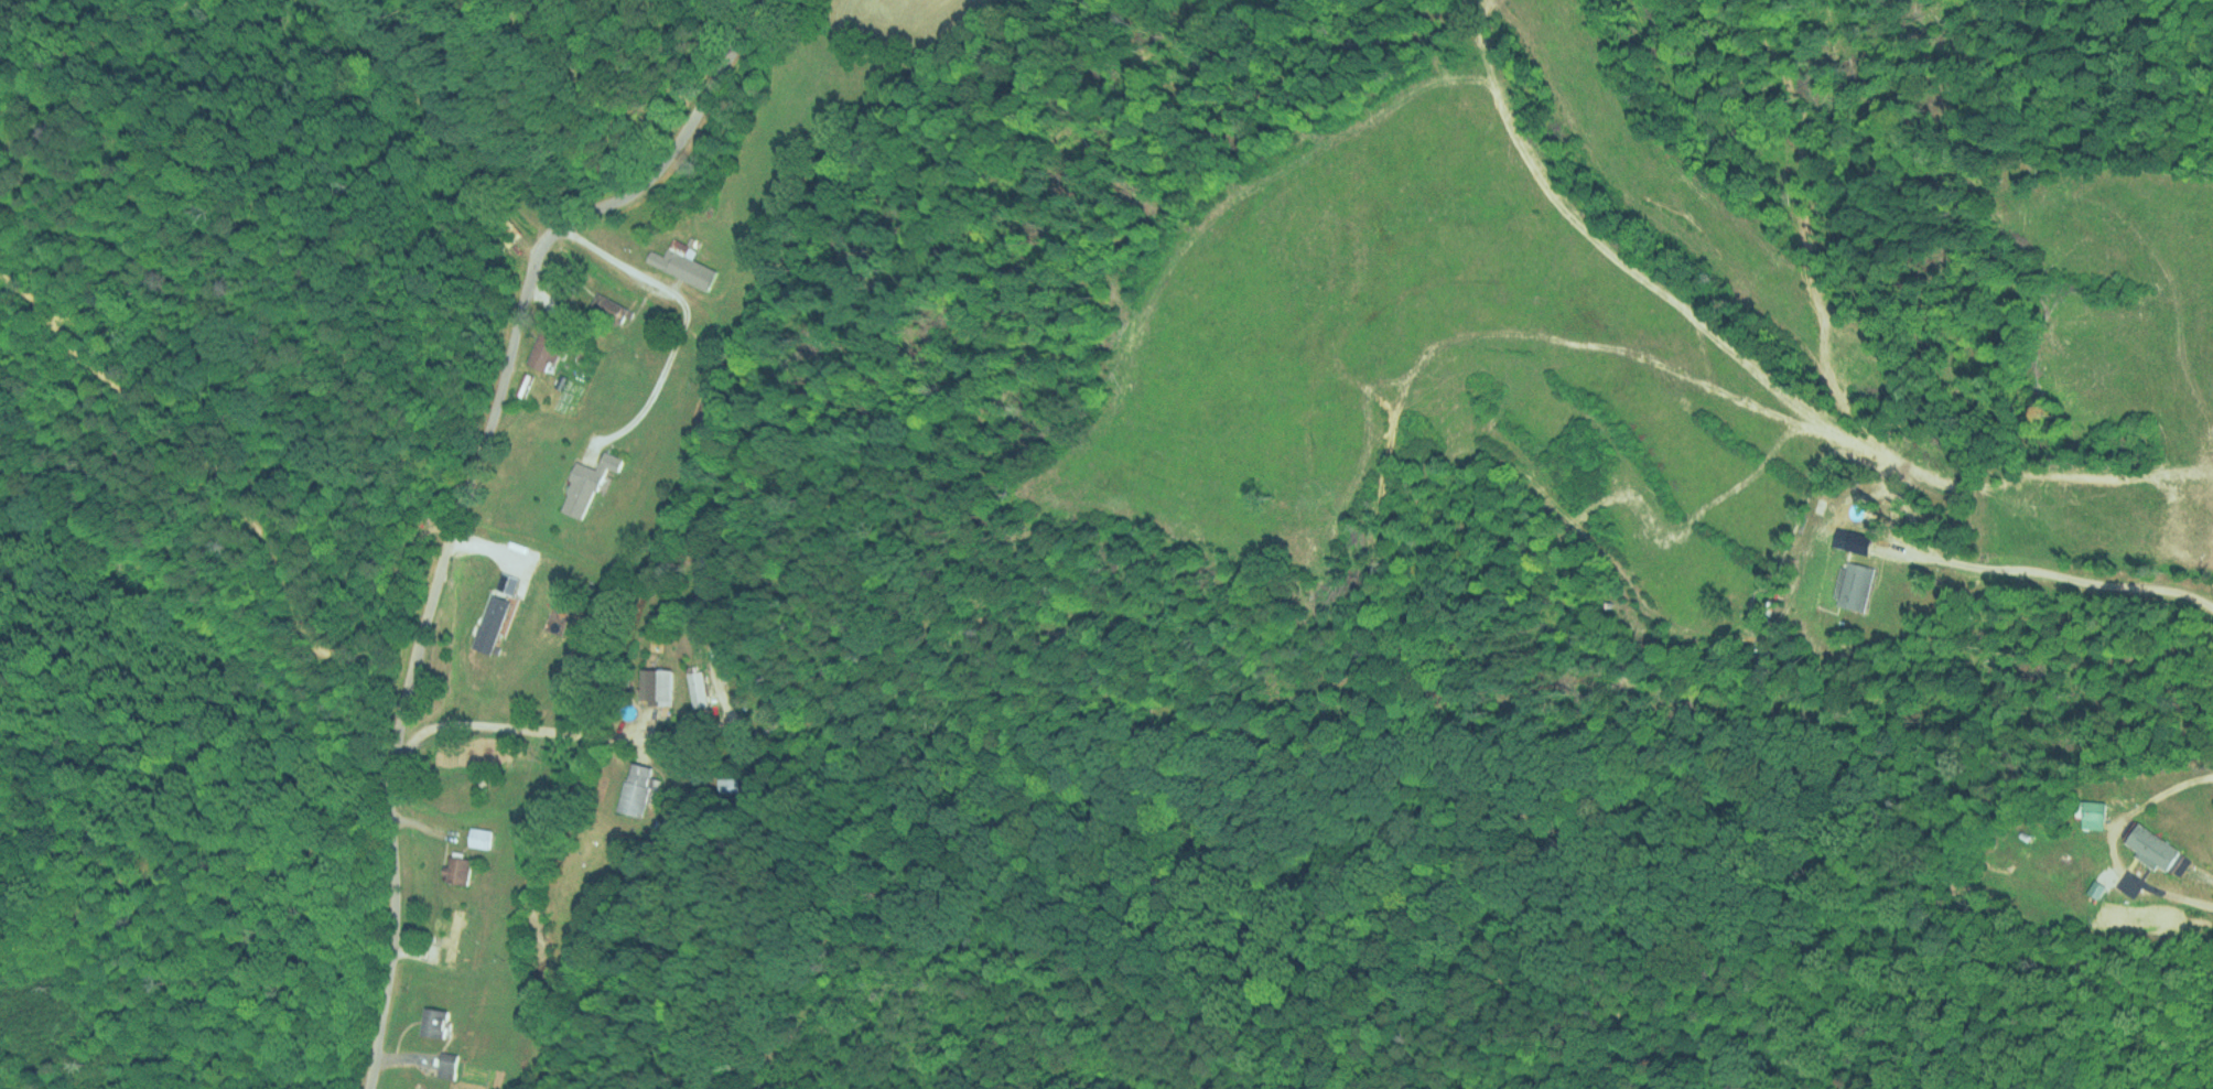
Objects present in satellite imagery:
building: (682, 261)
road: (682, 319)
building: (542, 348)
building: (582, 483)
road: (461, 498)
building: (1838, 537)
road: (2047, 571)
building: (701, 581)
building: (1852, 584)
building: (654, 684)
building: (694, 686)
road: (510, 727)
building: (634, 788)
building: (2088, 812)
building: (476, 837)
building: (2150, 847)
building: (454, 871)
building: (430, 1021)
building: (442, 1064)

